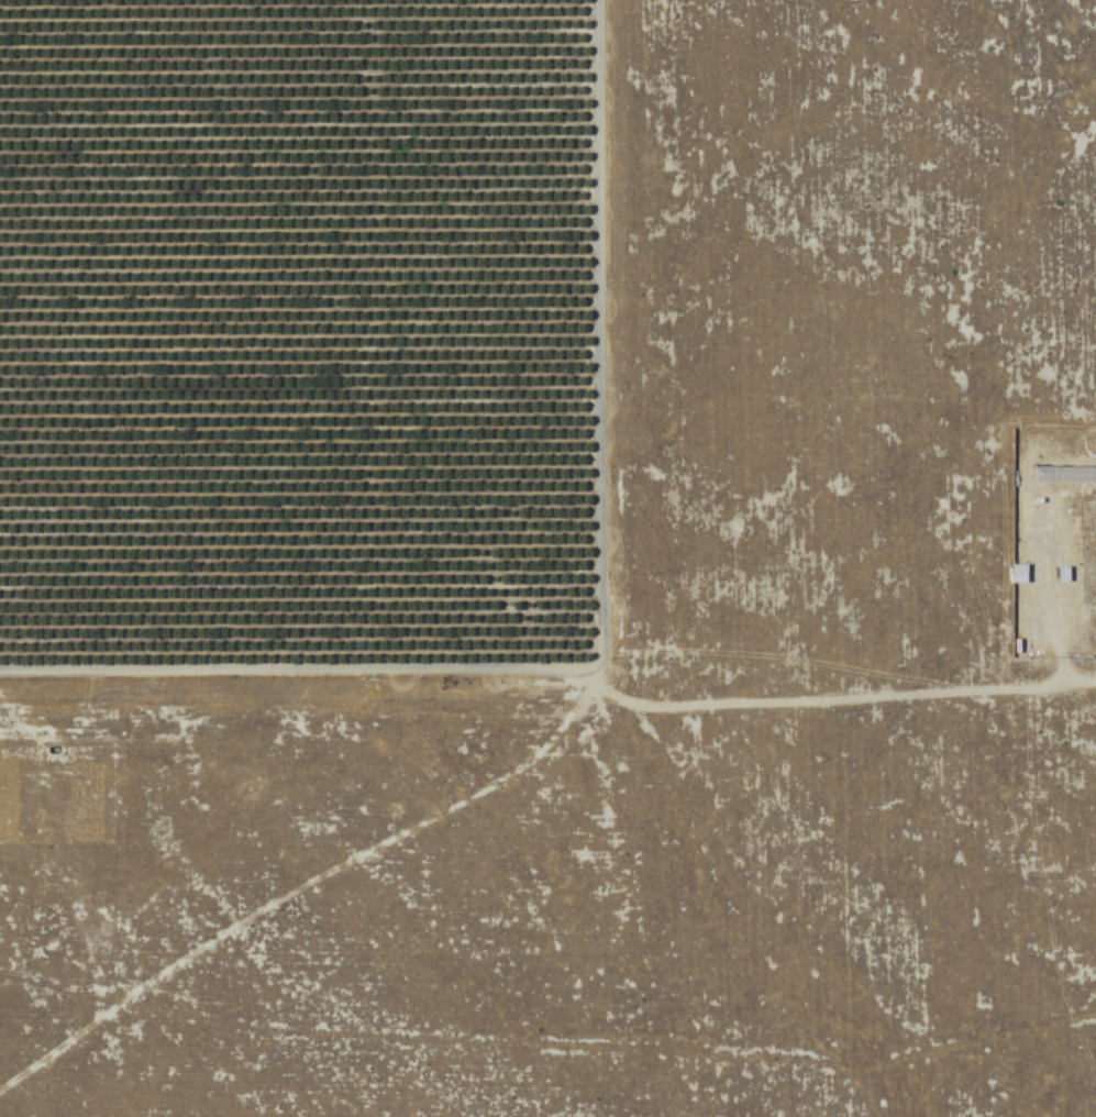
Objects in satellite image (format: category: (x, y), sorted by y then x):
crop: (297, 341)

